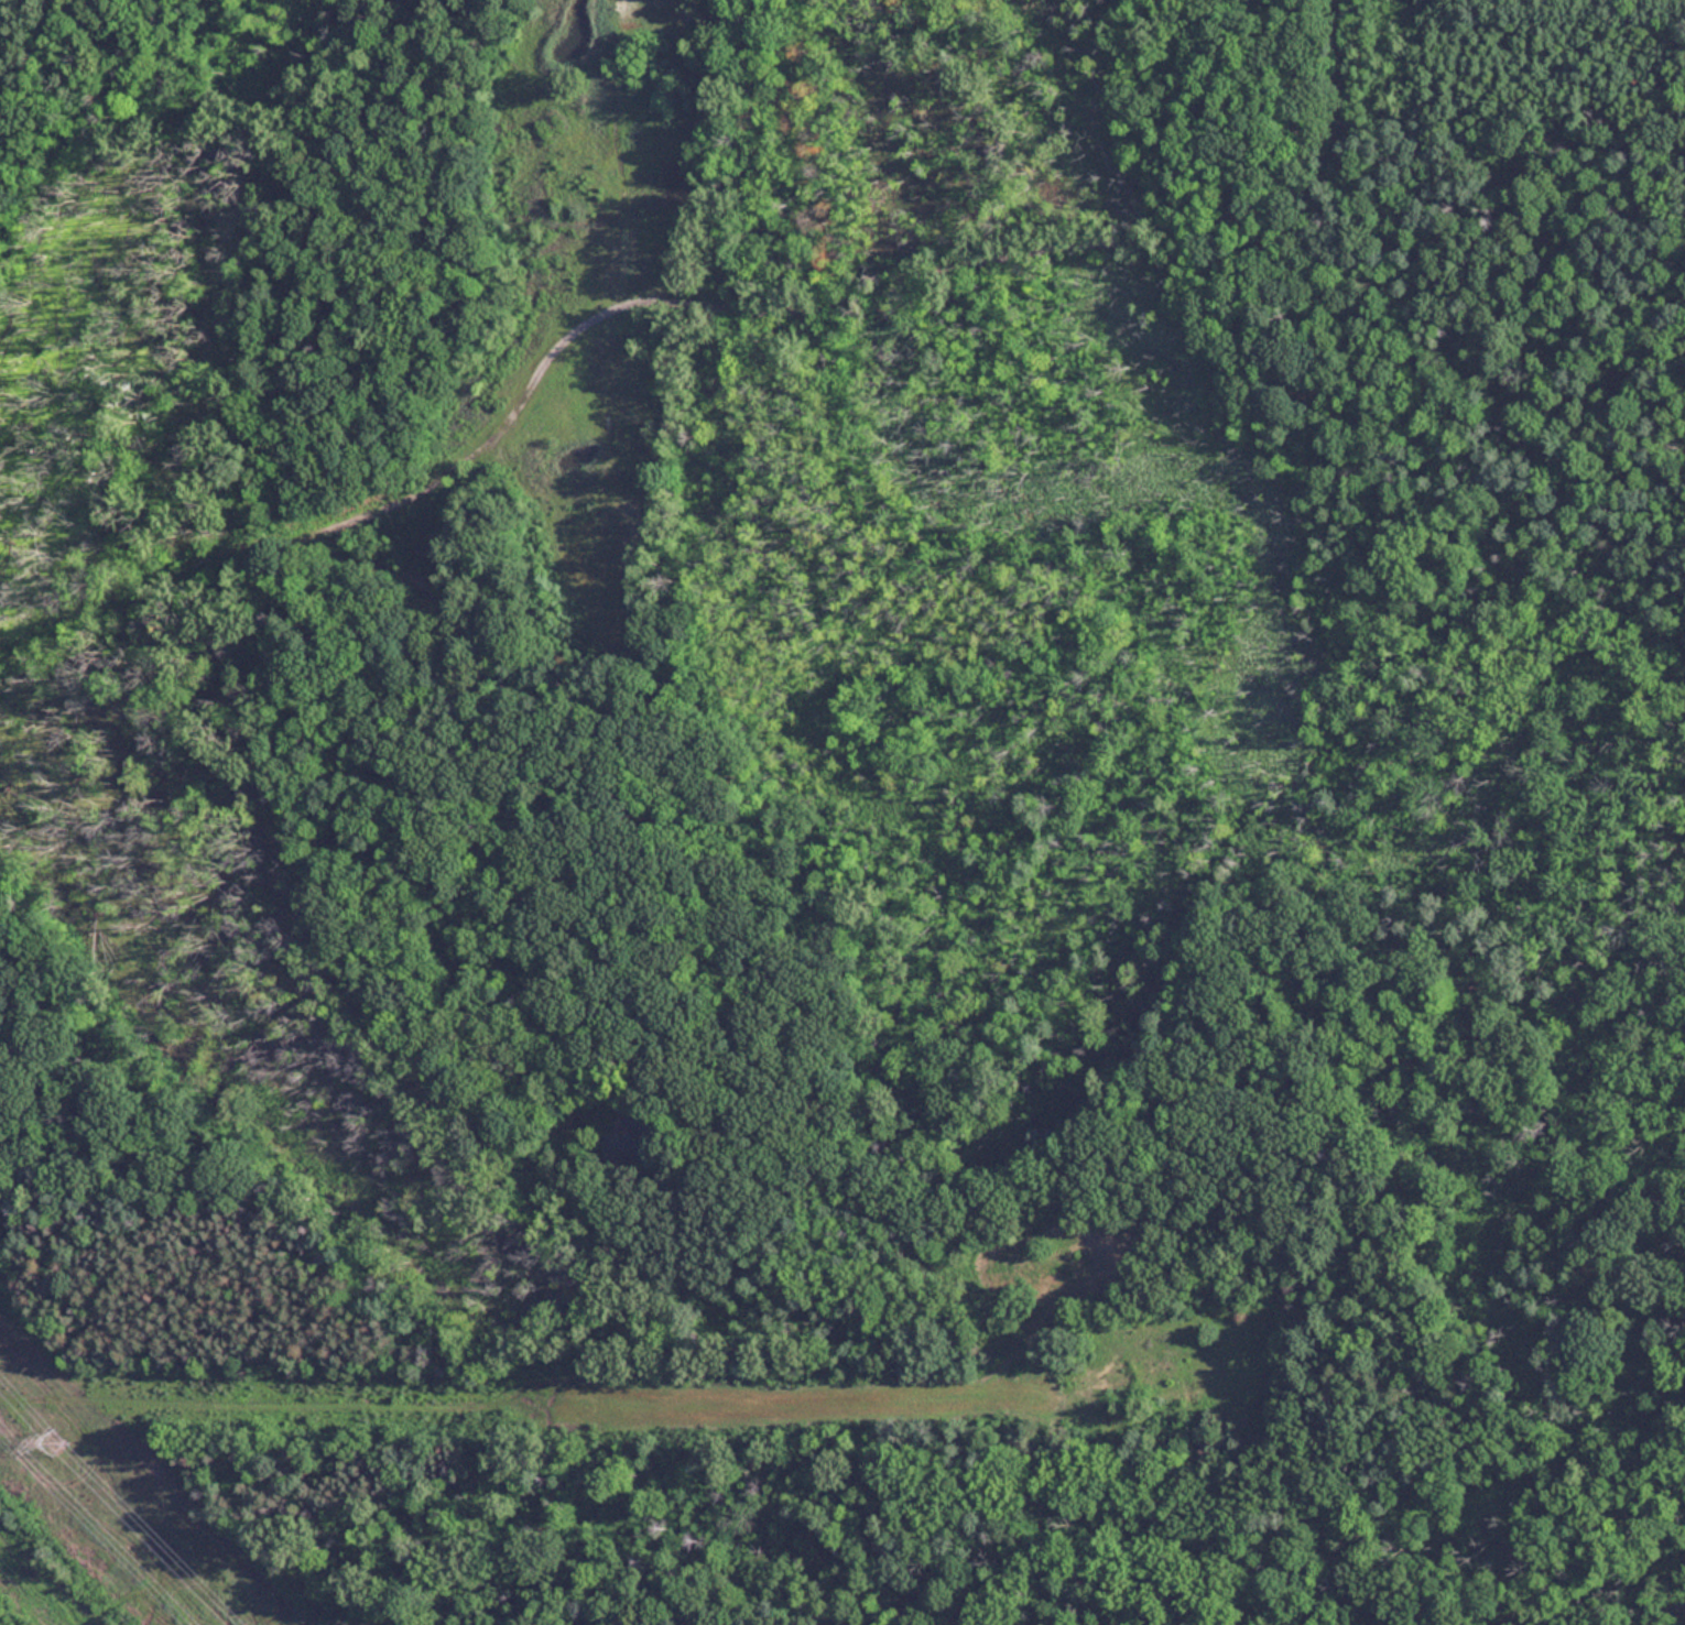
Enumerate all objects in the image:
road: (708, 308)
road: (912, 1087)
building: (626, 1146)
power tower: (56, 1444)

